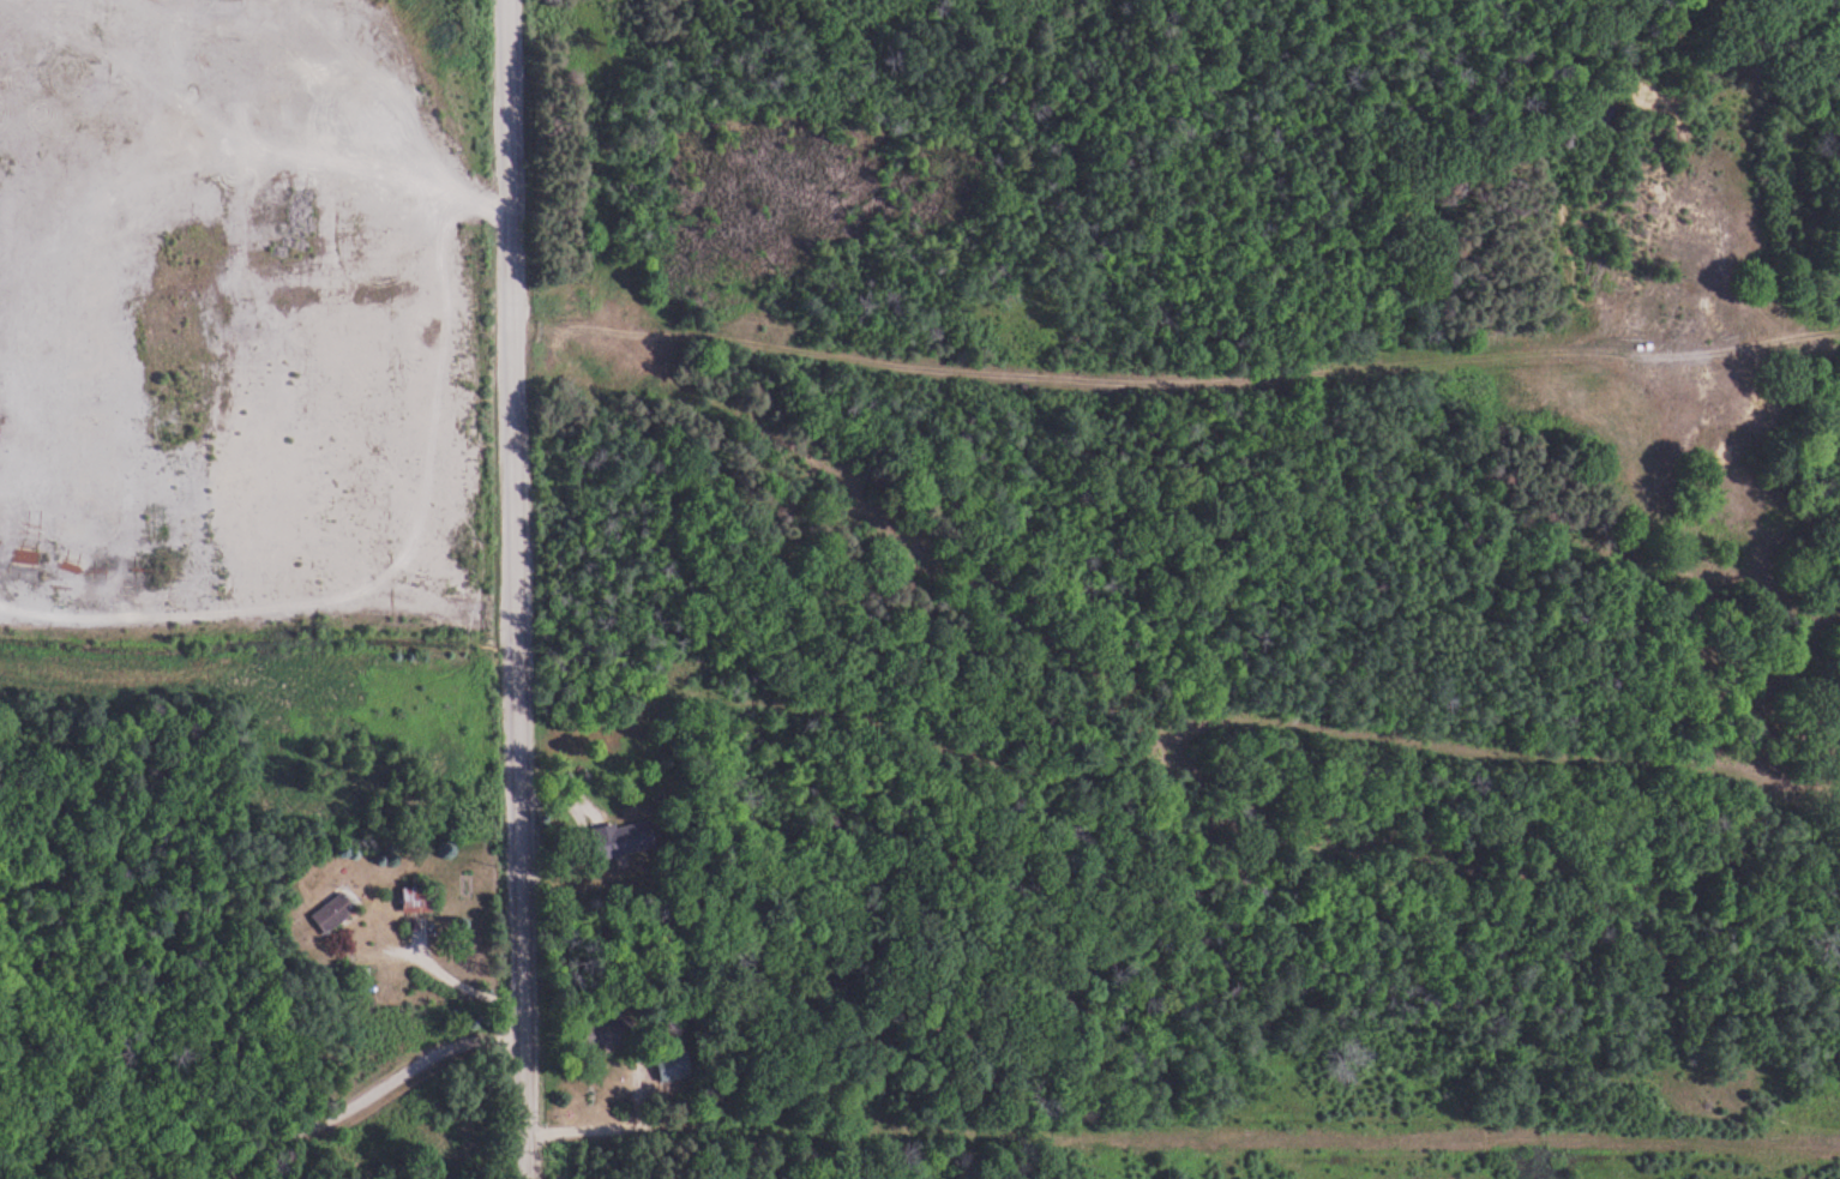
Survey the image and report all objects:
road: (1175, 379)
road: (515, 589)
building: (625, 840)
building: (420, 901)
building: (333, 914)
road: (463, 985)
building: (606, 1034)
road: (369, 1093)

